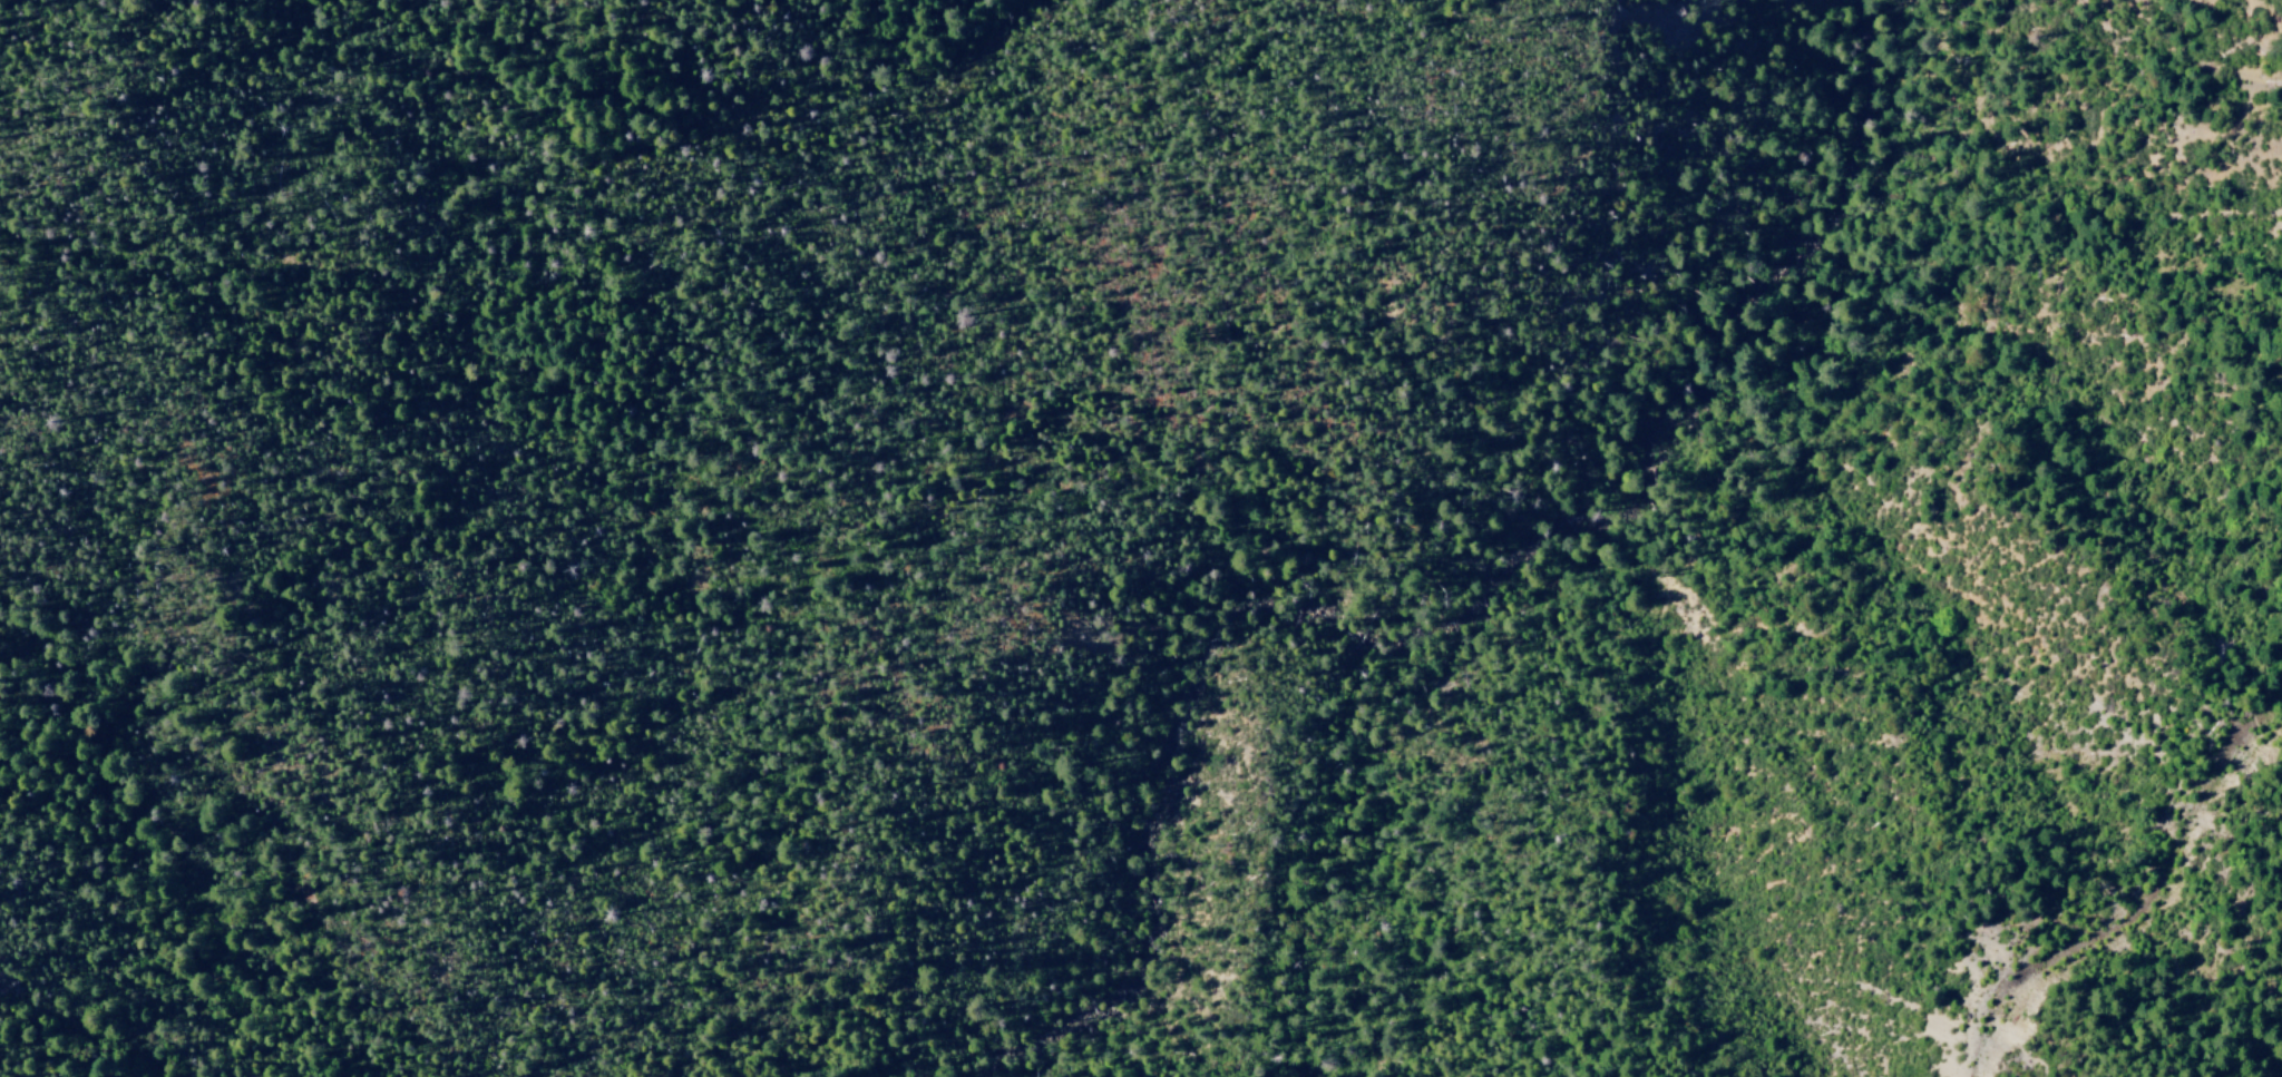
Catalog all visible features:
road: (2157, 892)

